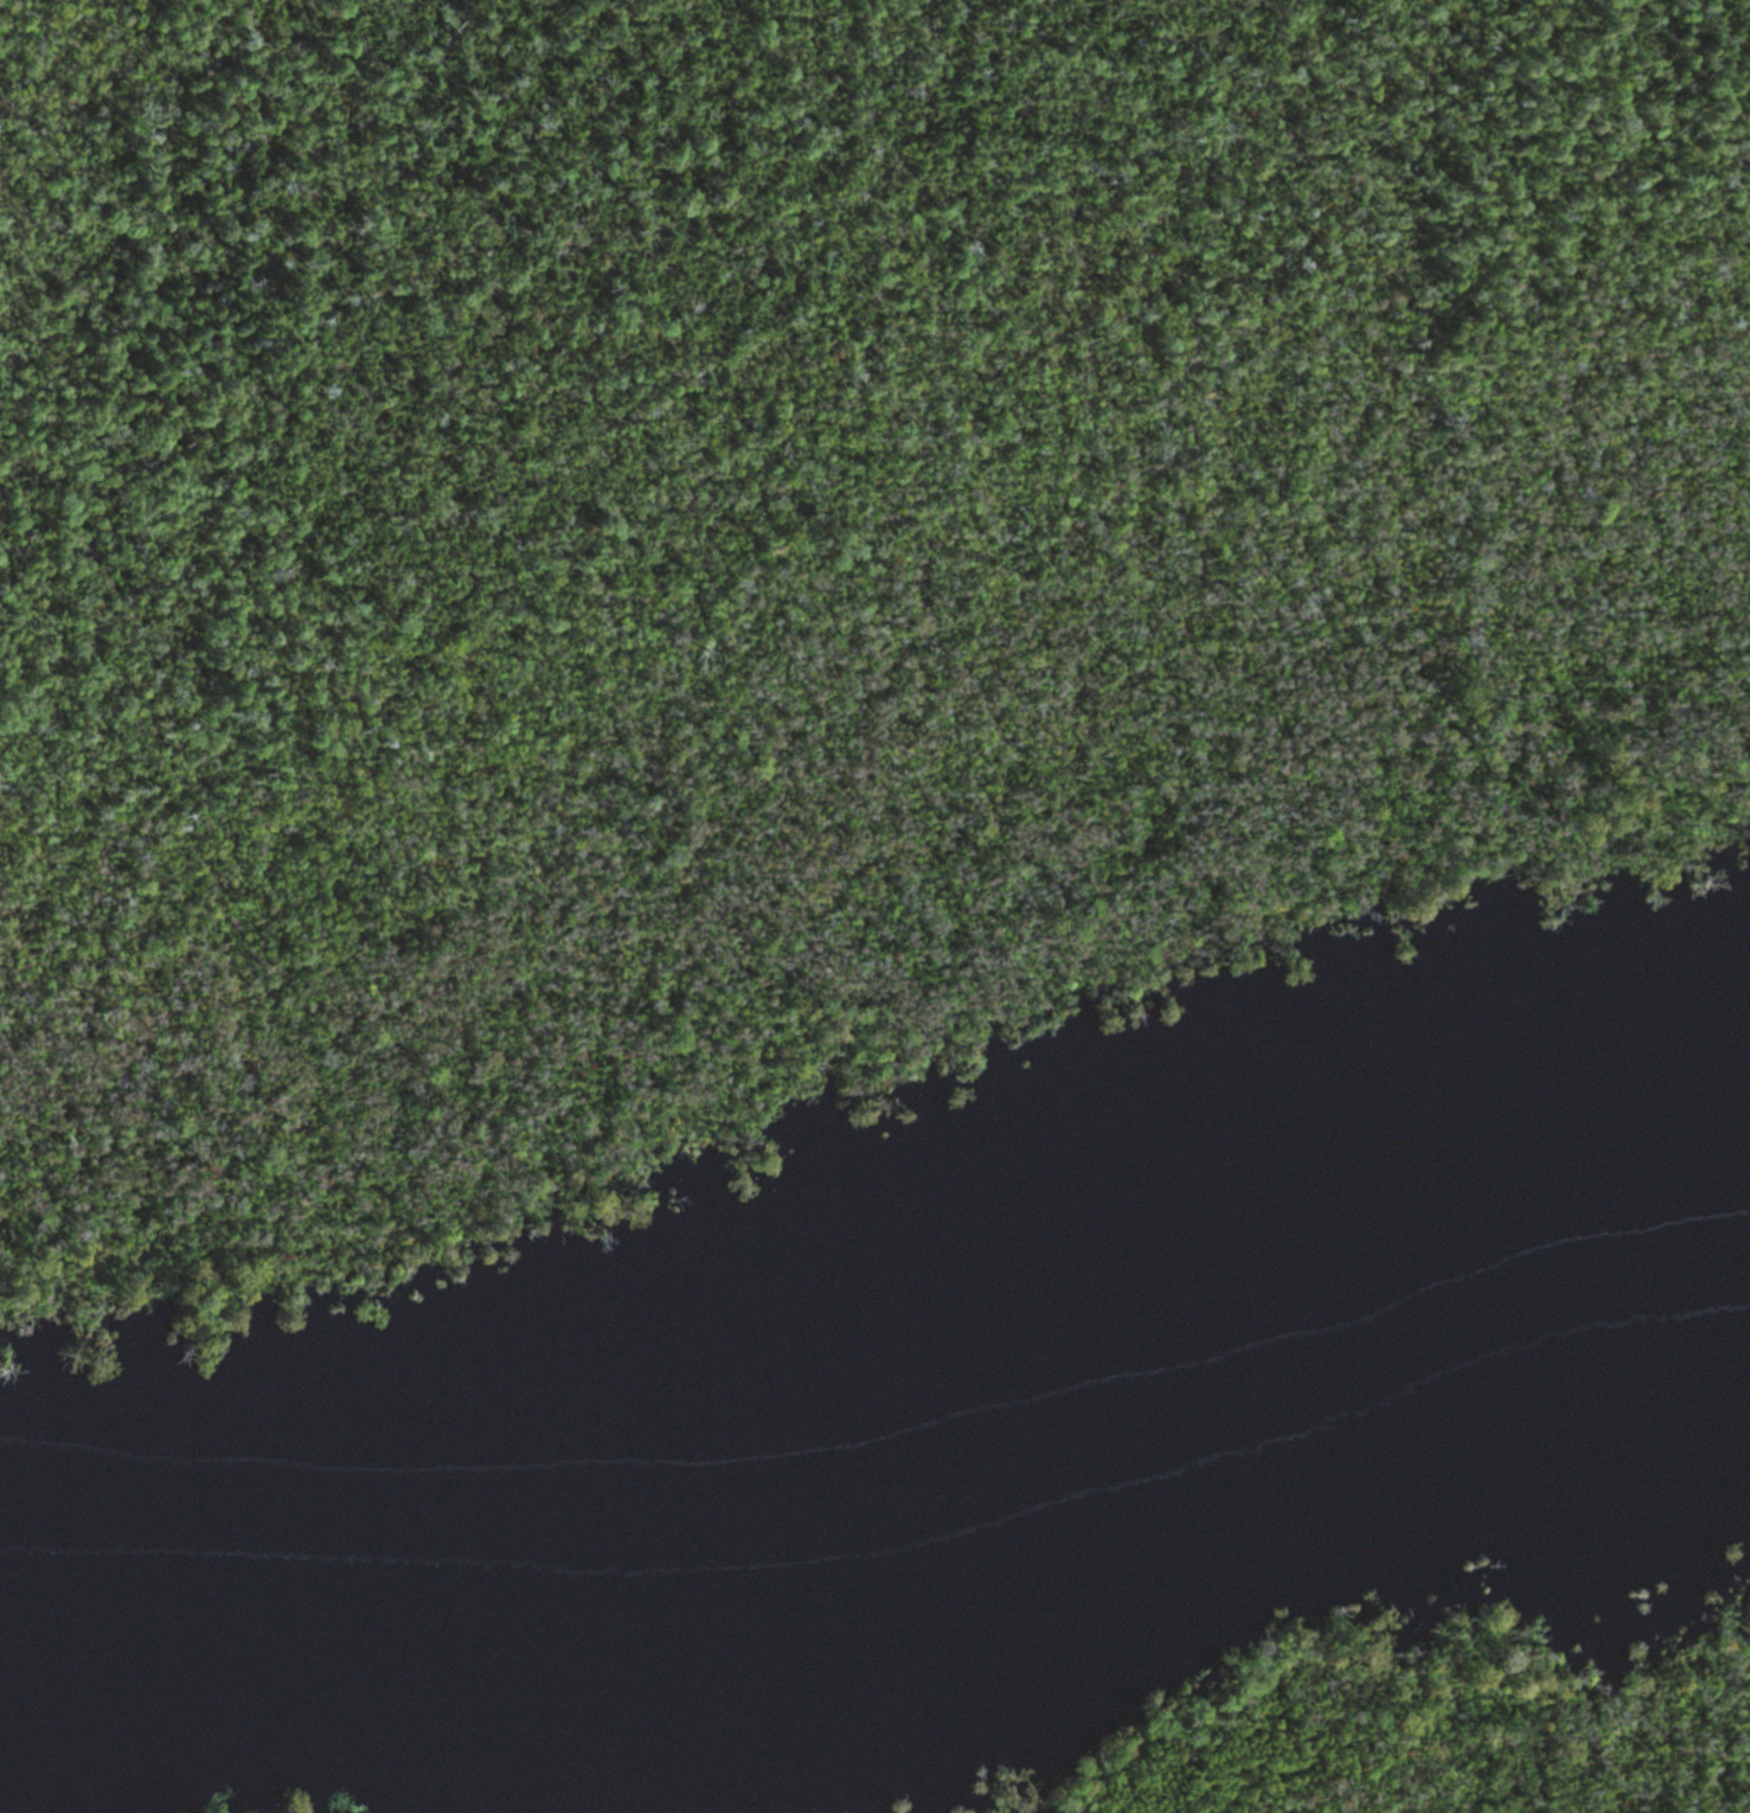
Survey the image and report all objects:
river: (872, 1437)

